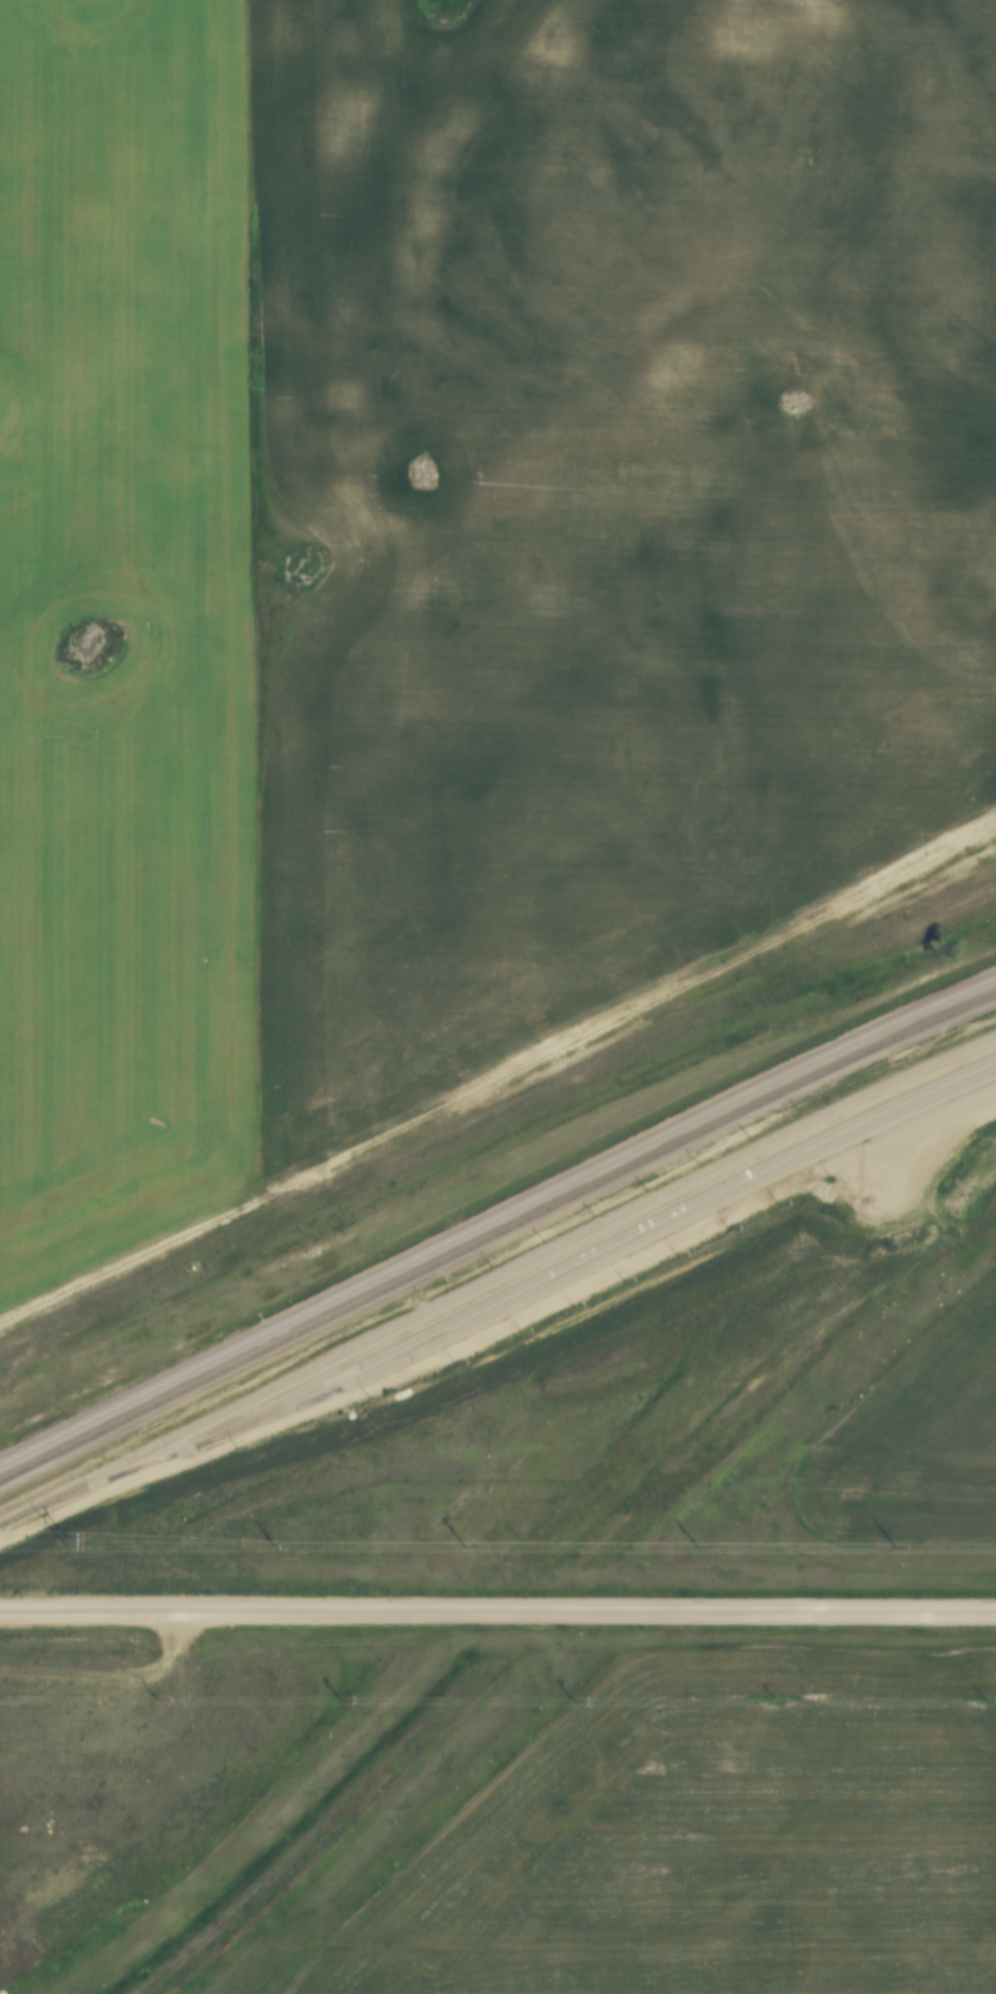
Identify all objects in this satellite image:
railway: (495, 1214)
railway: (495, 1231)
railway: (586, 1245)
railway: (494, 1270)
railway: (511, 1295)
power tower: (66, 1539)
road: (497, 1610)

